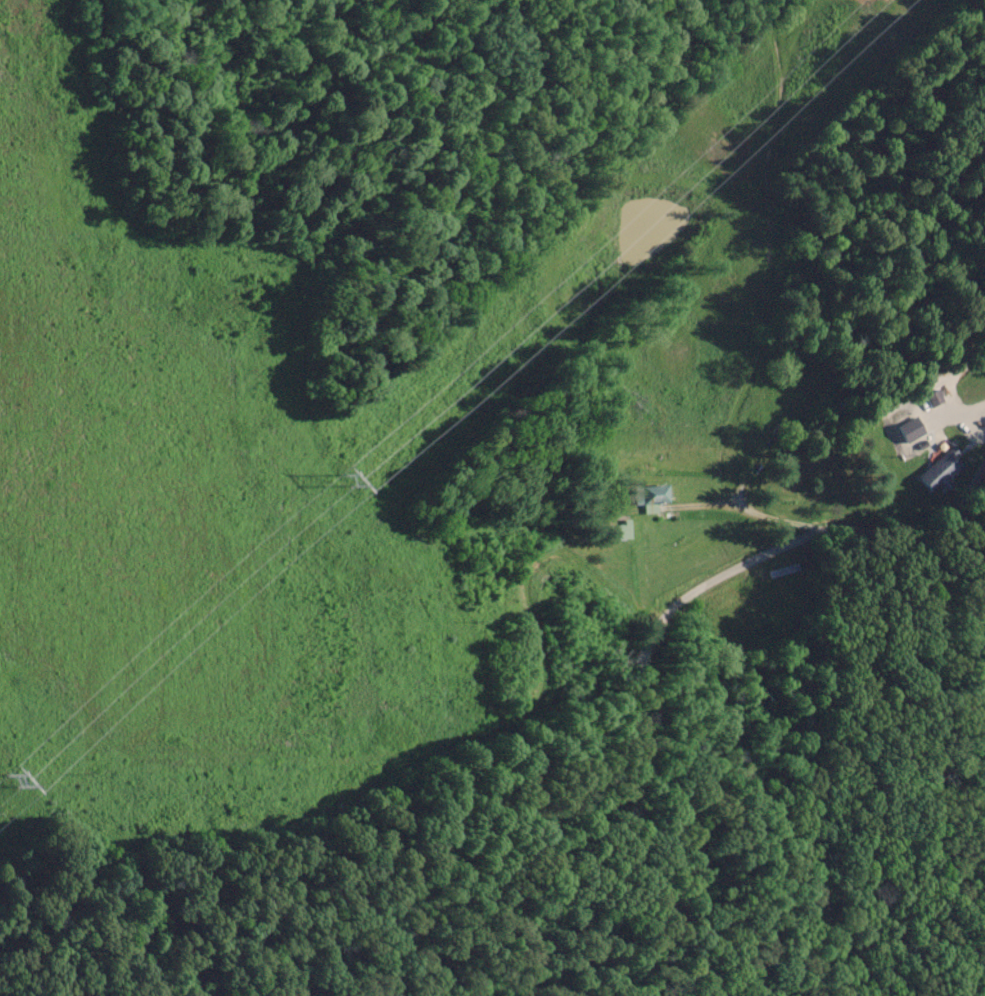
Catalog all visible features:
building: (910, 429)
building: (941, 467)
power tower: (347, 482)
building: (652, 497)
road: (744, 510)
building: (621, 529)
building: (783, 569)
road: (643, 668)
power tower: (15, 779)

